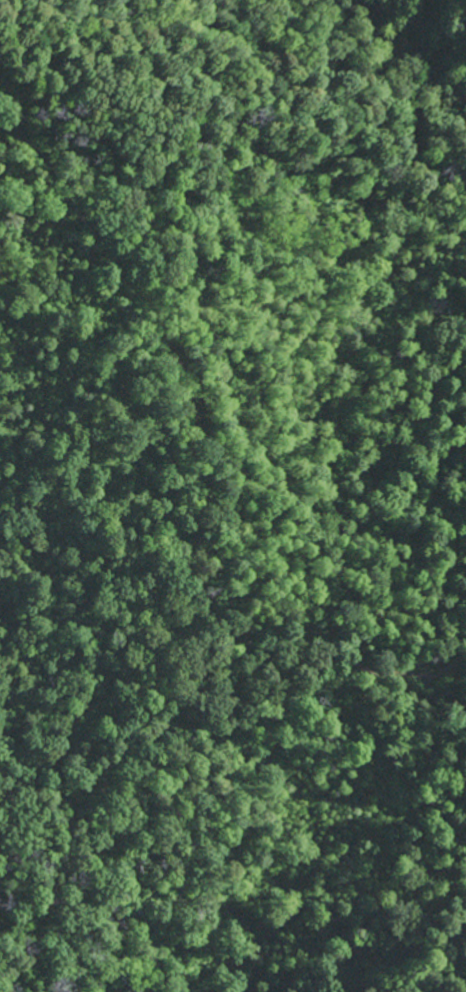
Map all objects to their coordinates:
road: (134, 210)

